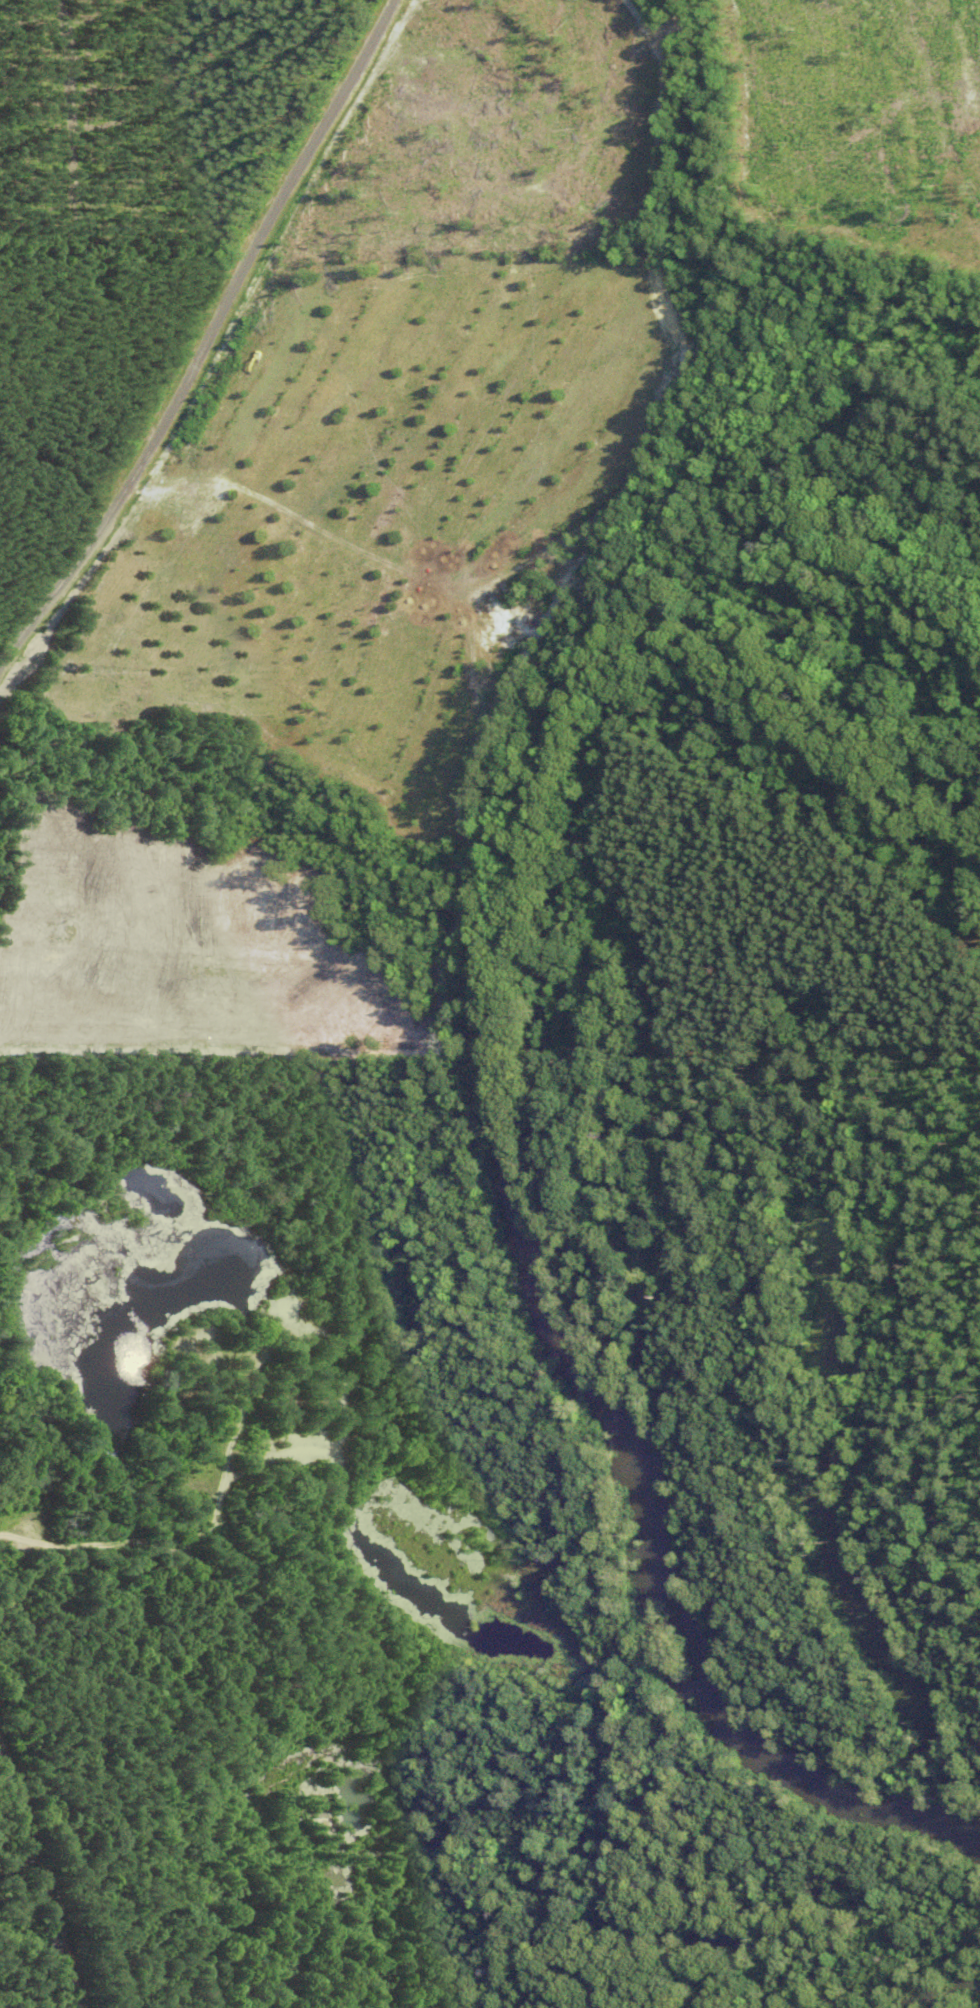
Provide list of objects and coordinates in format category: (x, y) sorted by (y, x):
road: (206, 338)
road: (40, 1883)

